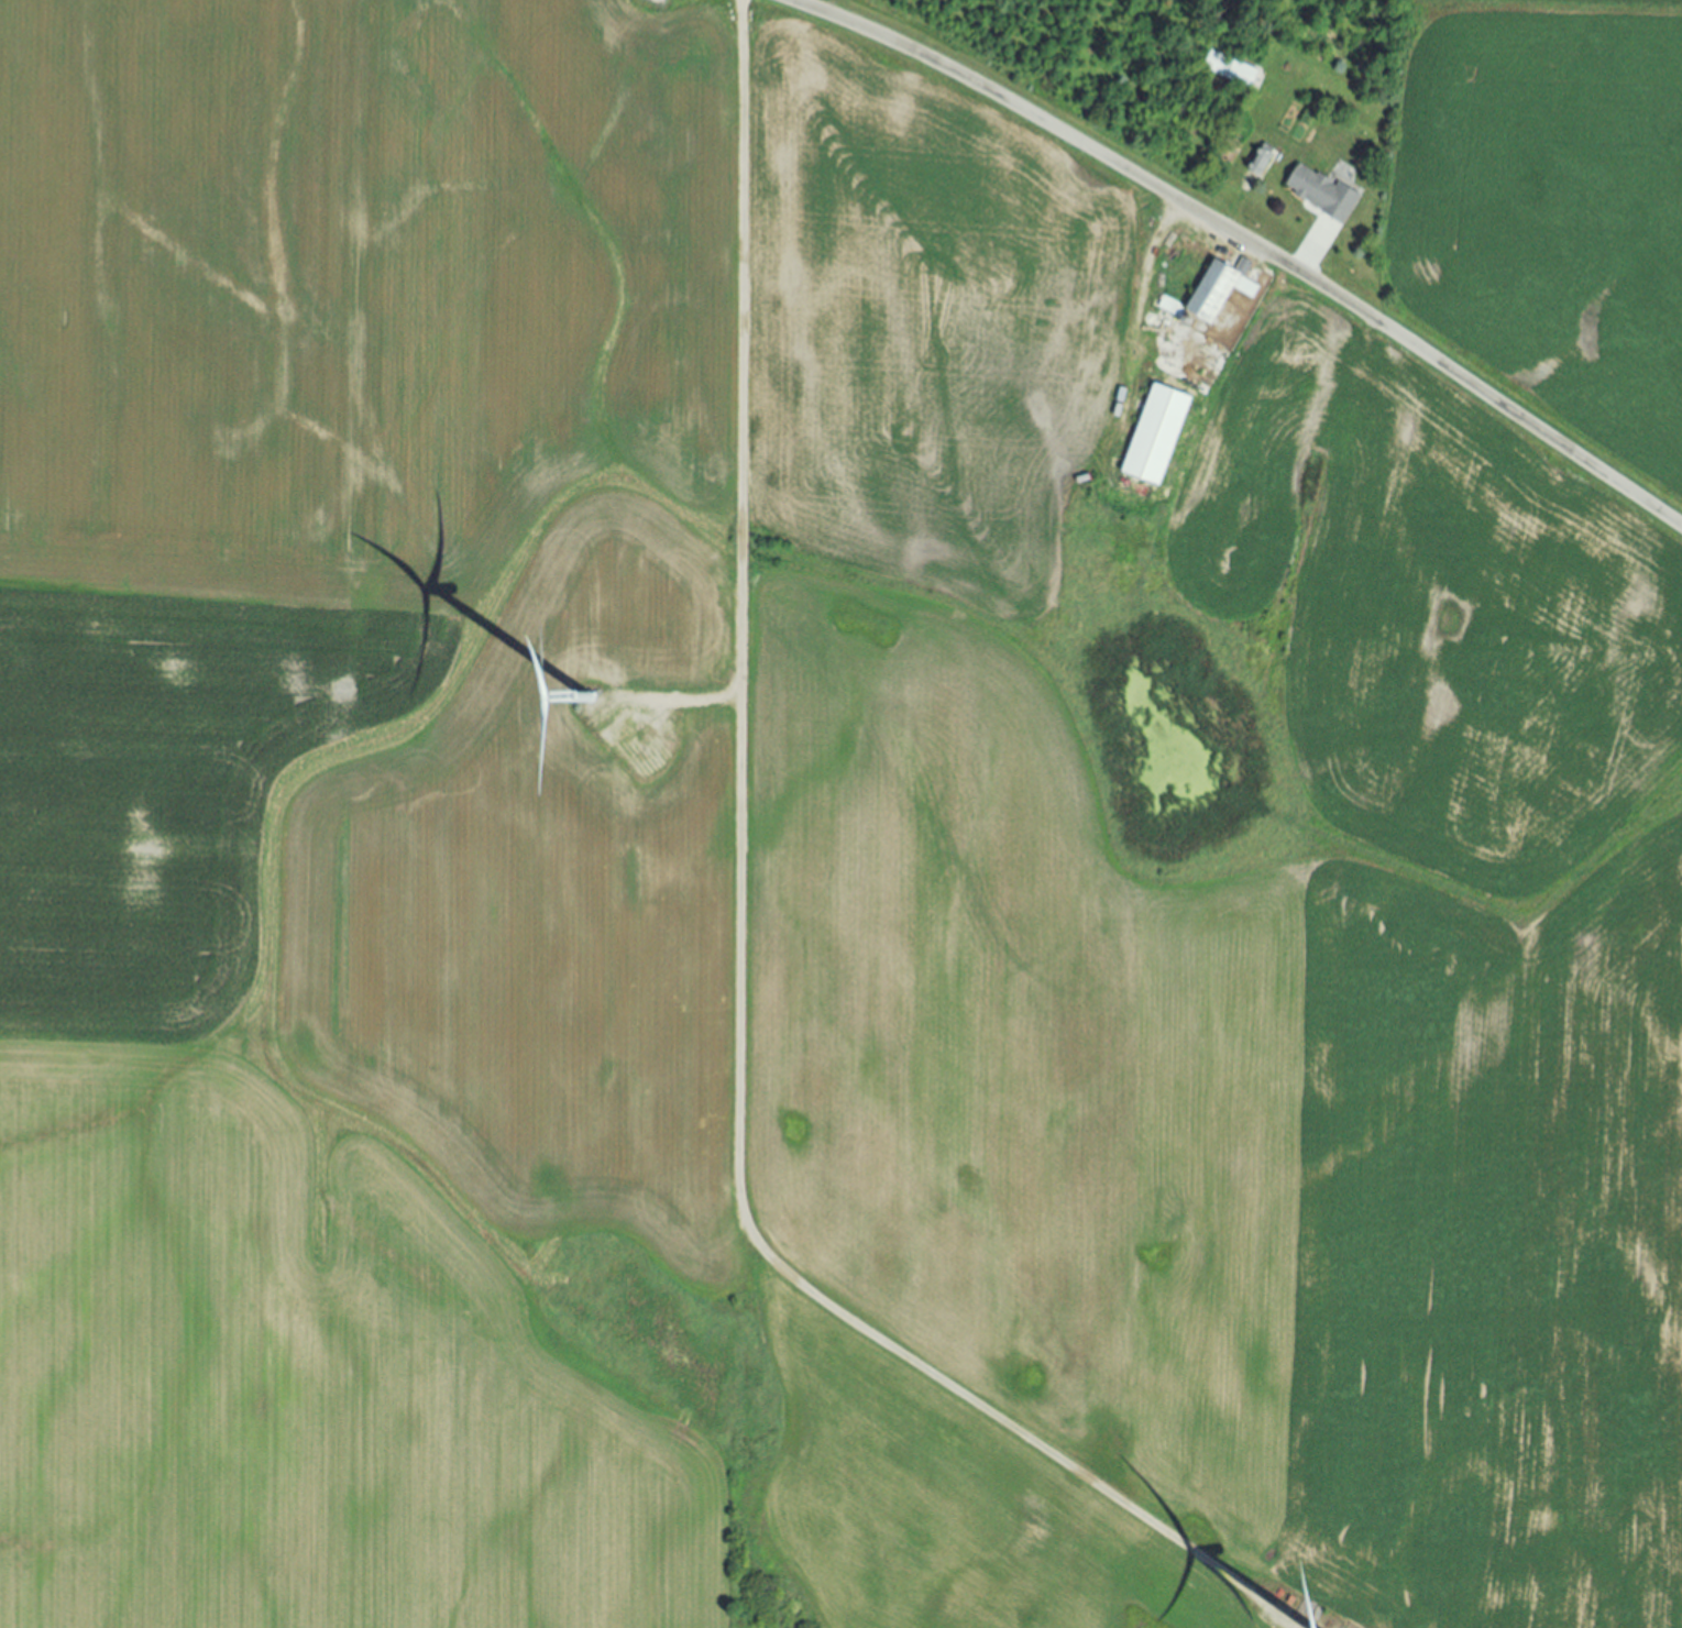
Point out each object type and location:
building: (1230, 71)
building: (1321, 193)
road: (1250, 242)
road: (1315, 254)
building: (1216, 291)
road: (1145, 324)
building: (1156, 436)
wind turbine: (583, 697)
road: (682, 703)
road: (741, 958)

